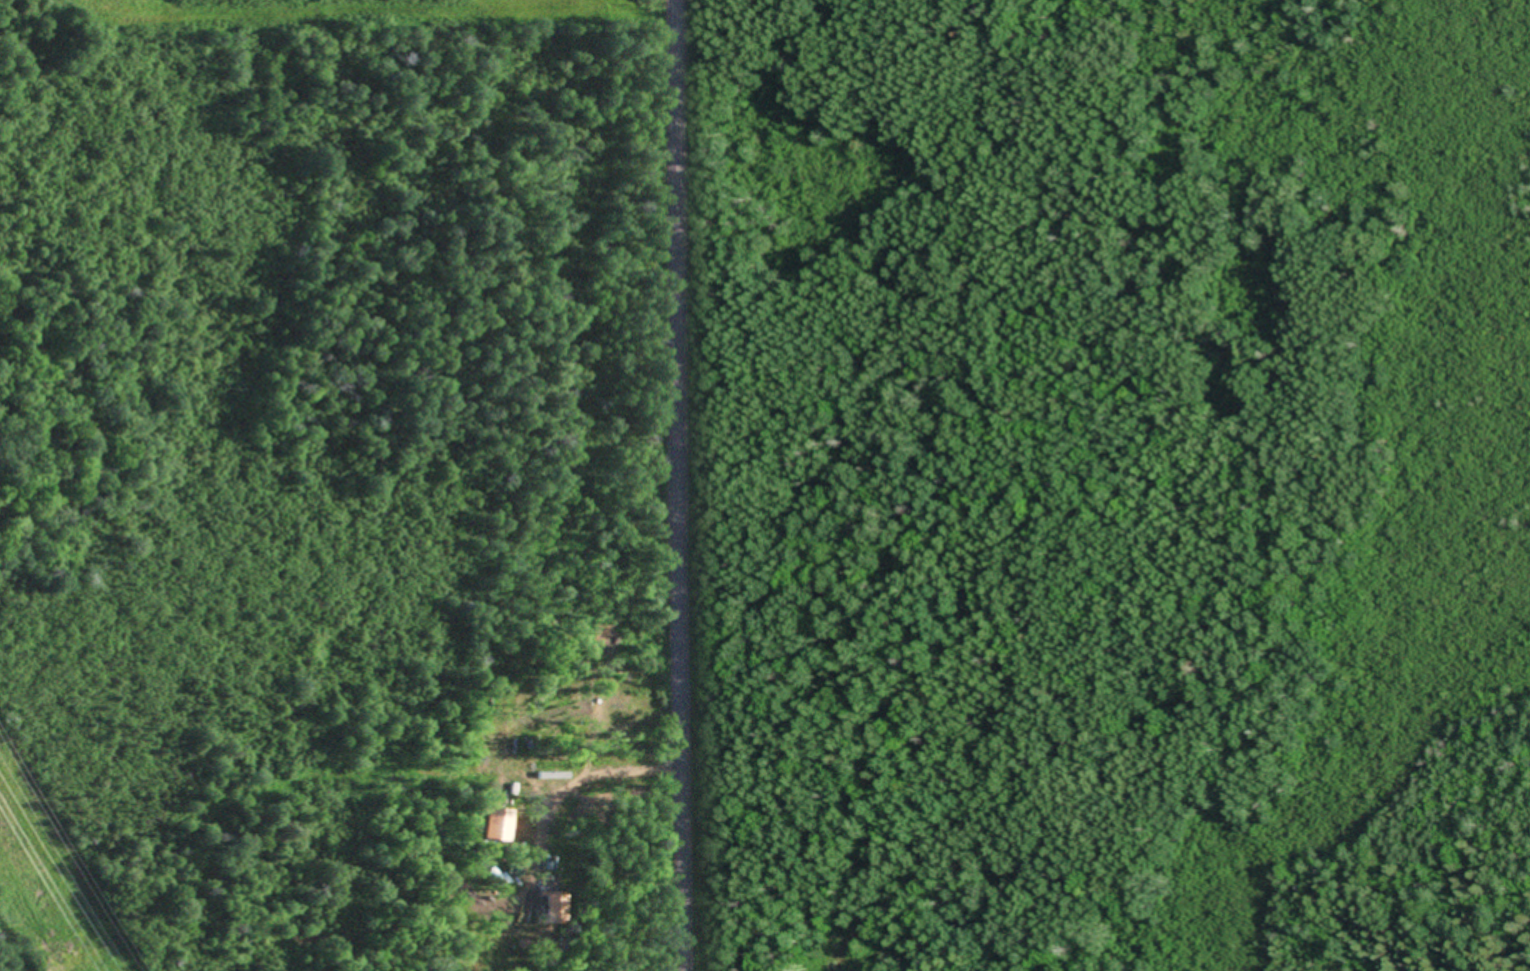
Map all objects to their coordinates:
road: (682, 485)

